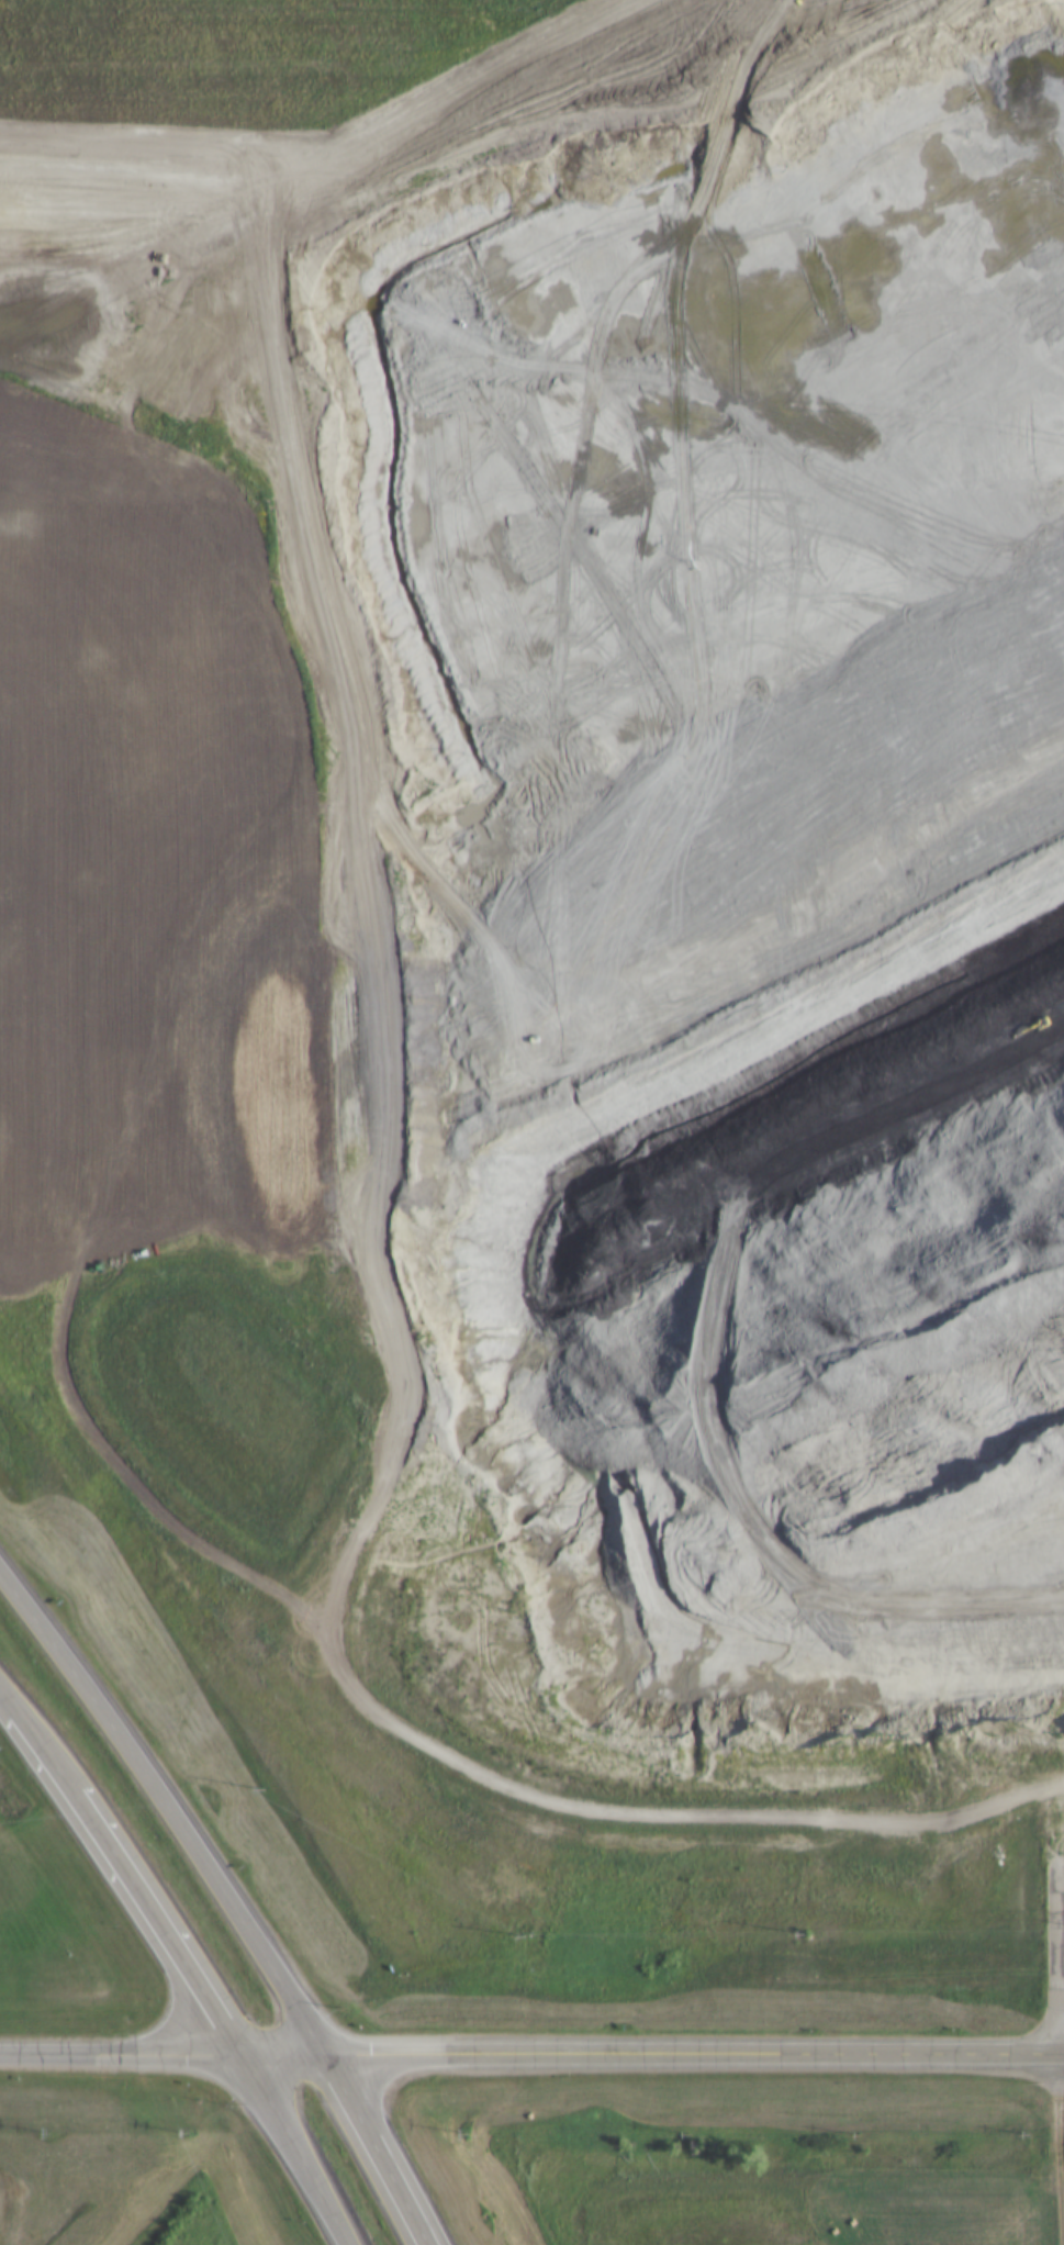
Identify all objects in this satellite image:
road: (1062, 1026)
road: (8, 1690)
road: (45, 1742)
road: (170, 1803)
road: (1062, 1822)
road: (160, 1917)
road: (121, 2052)
road: (284, 2053)
road: (694, 2053)
road: (296, 2148)
road: (376, 2148)

